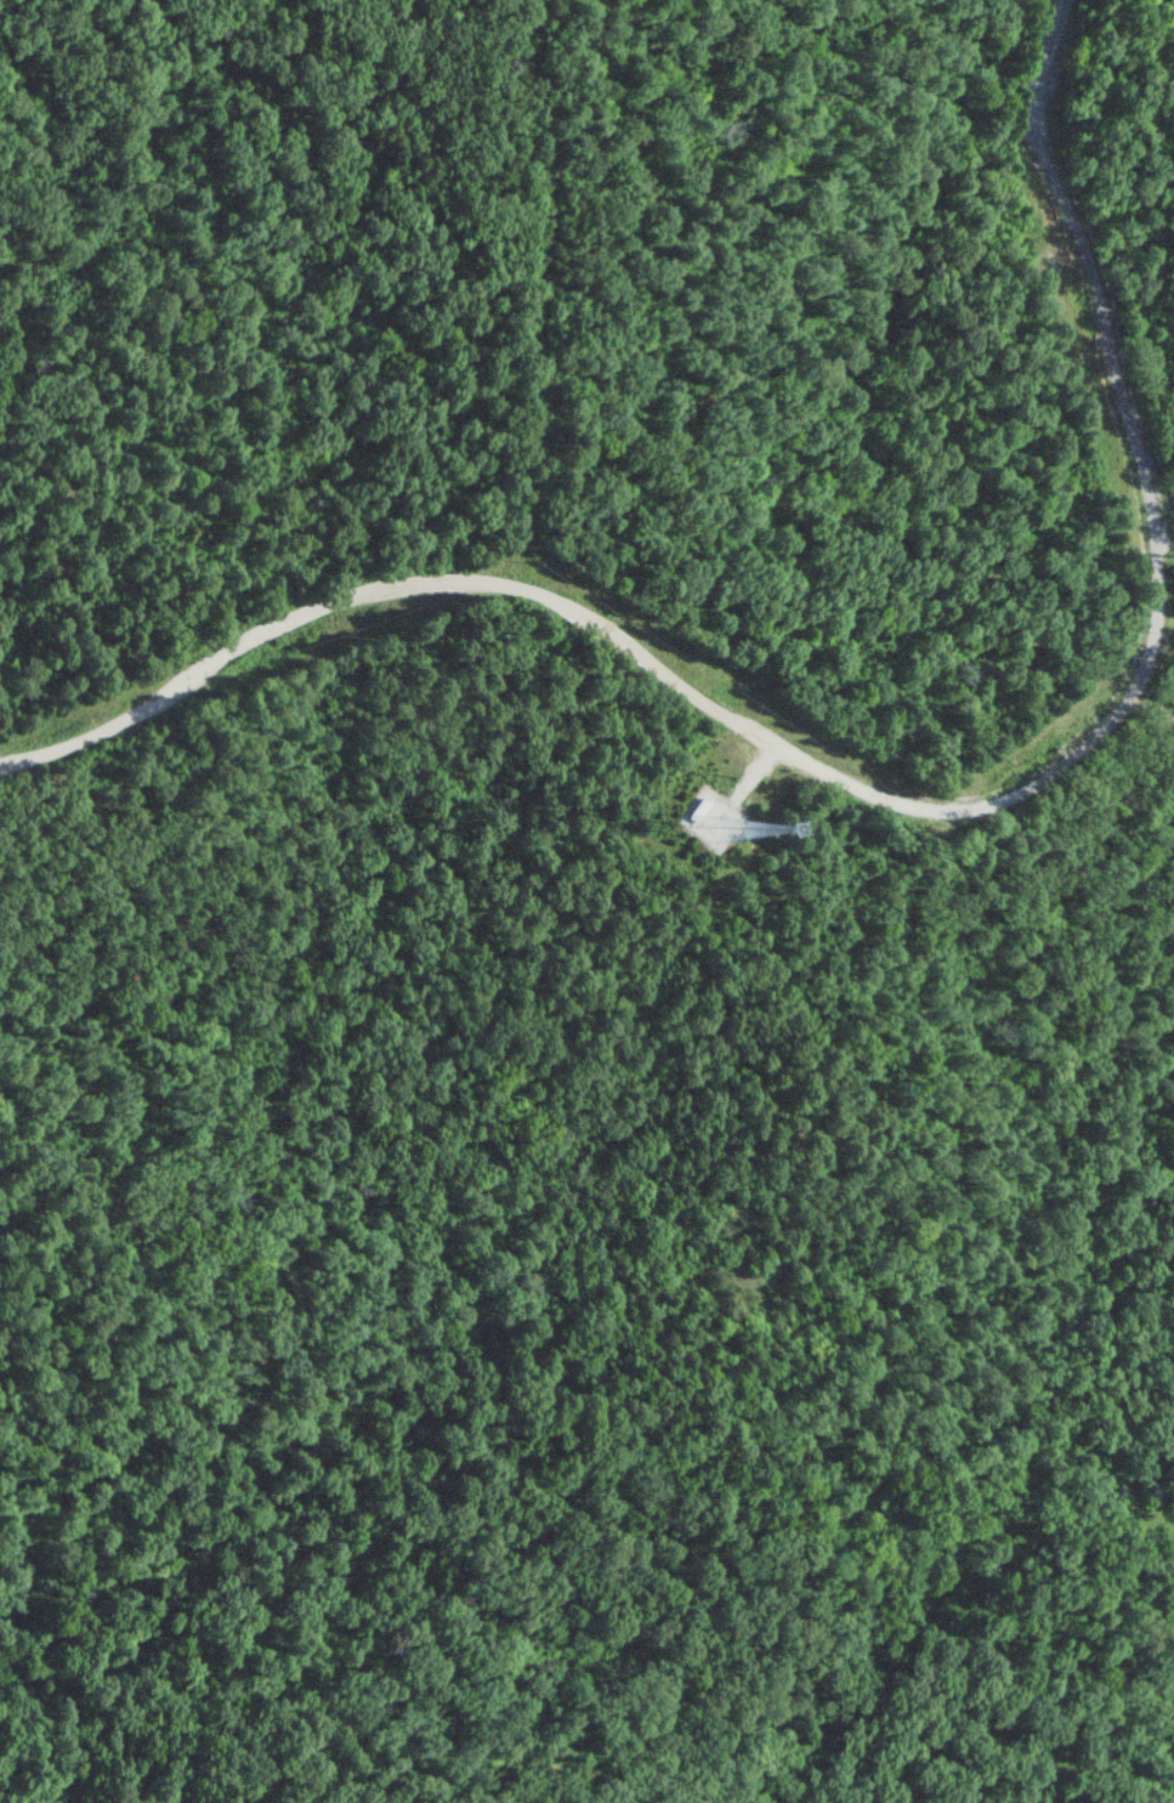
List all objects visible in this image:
road: (895, 795)

